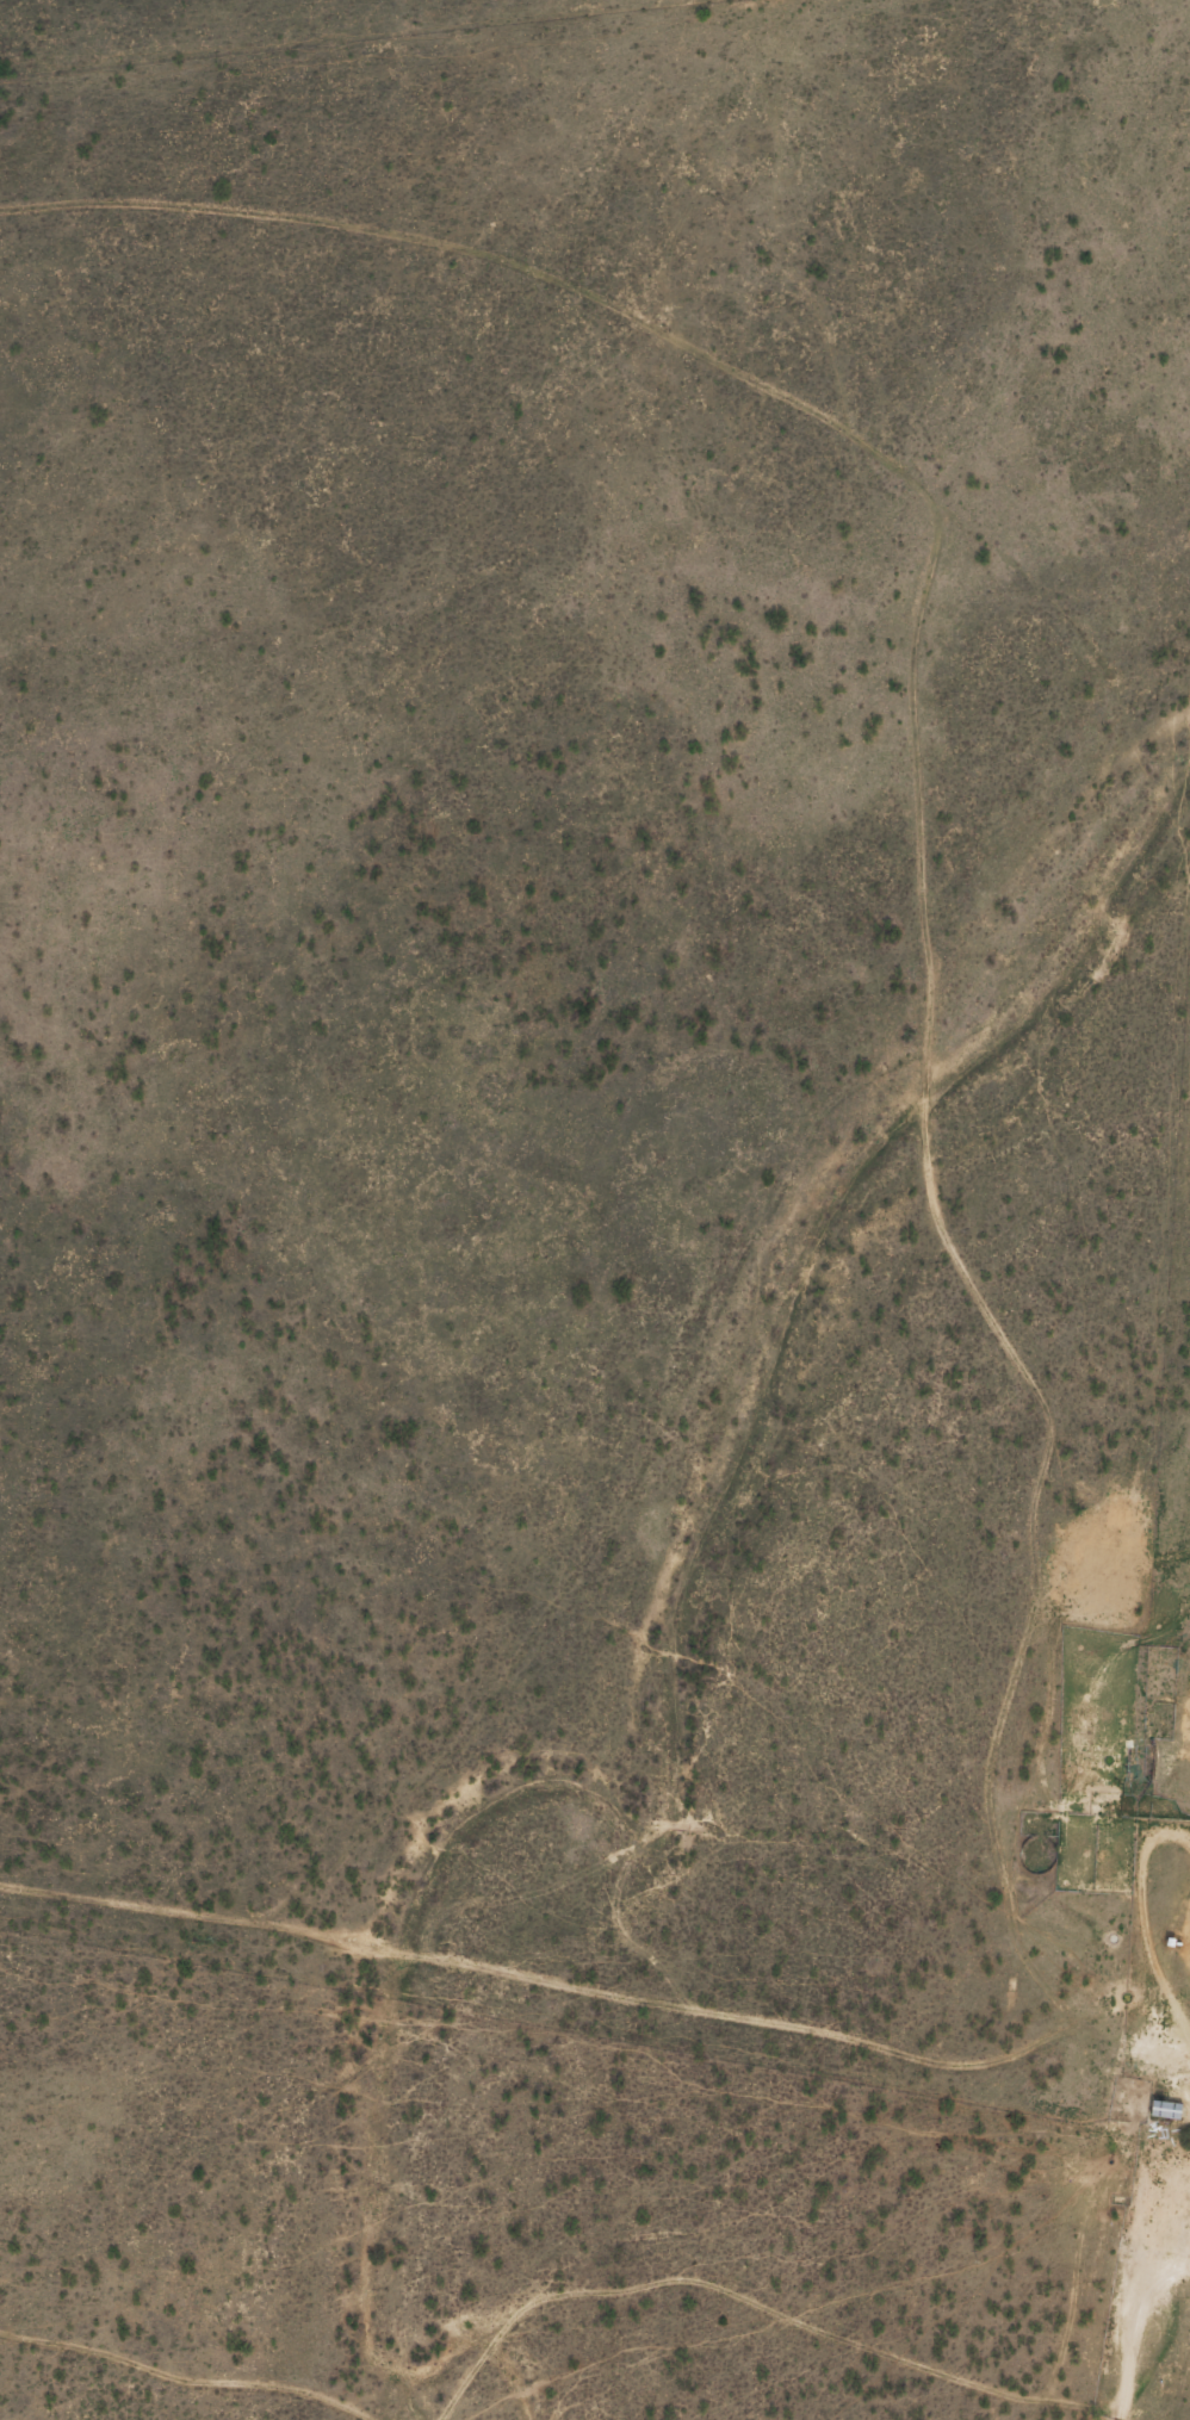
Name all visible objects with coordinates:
road: (1148, 2345)

